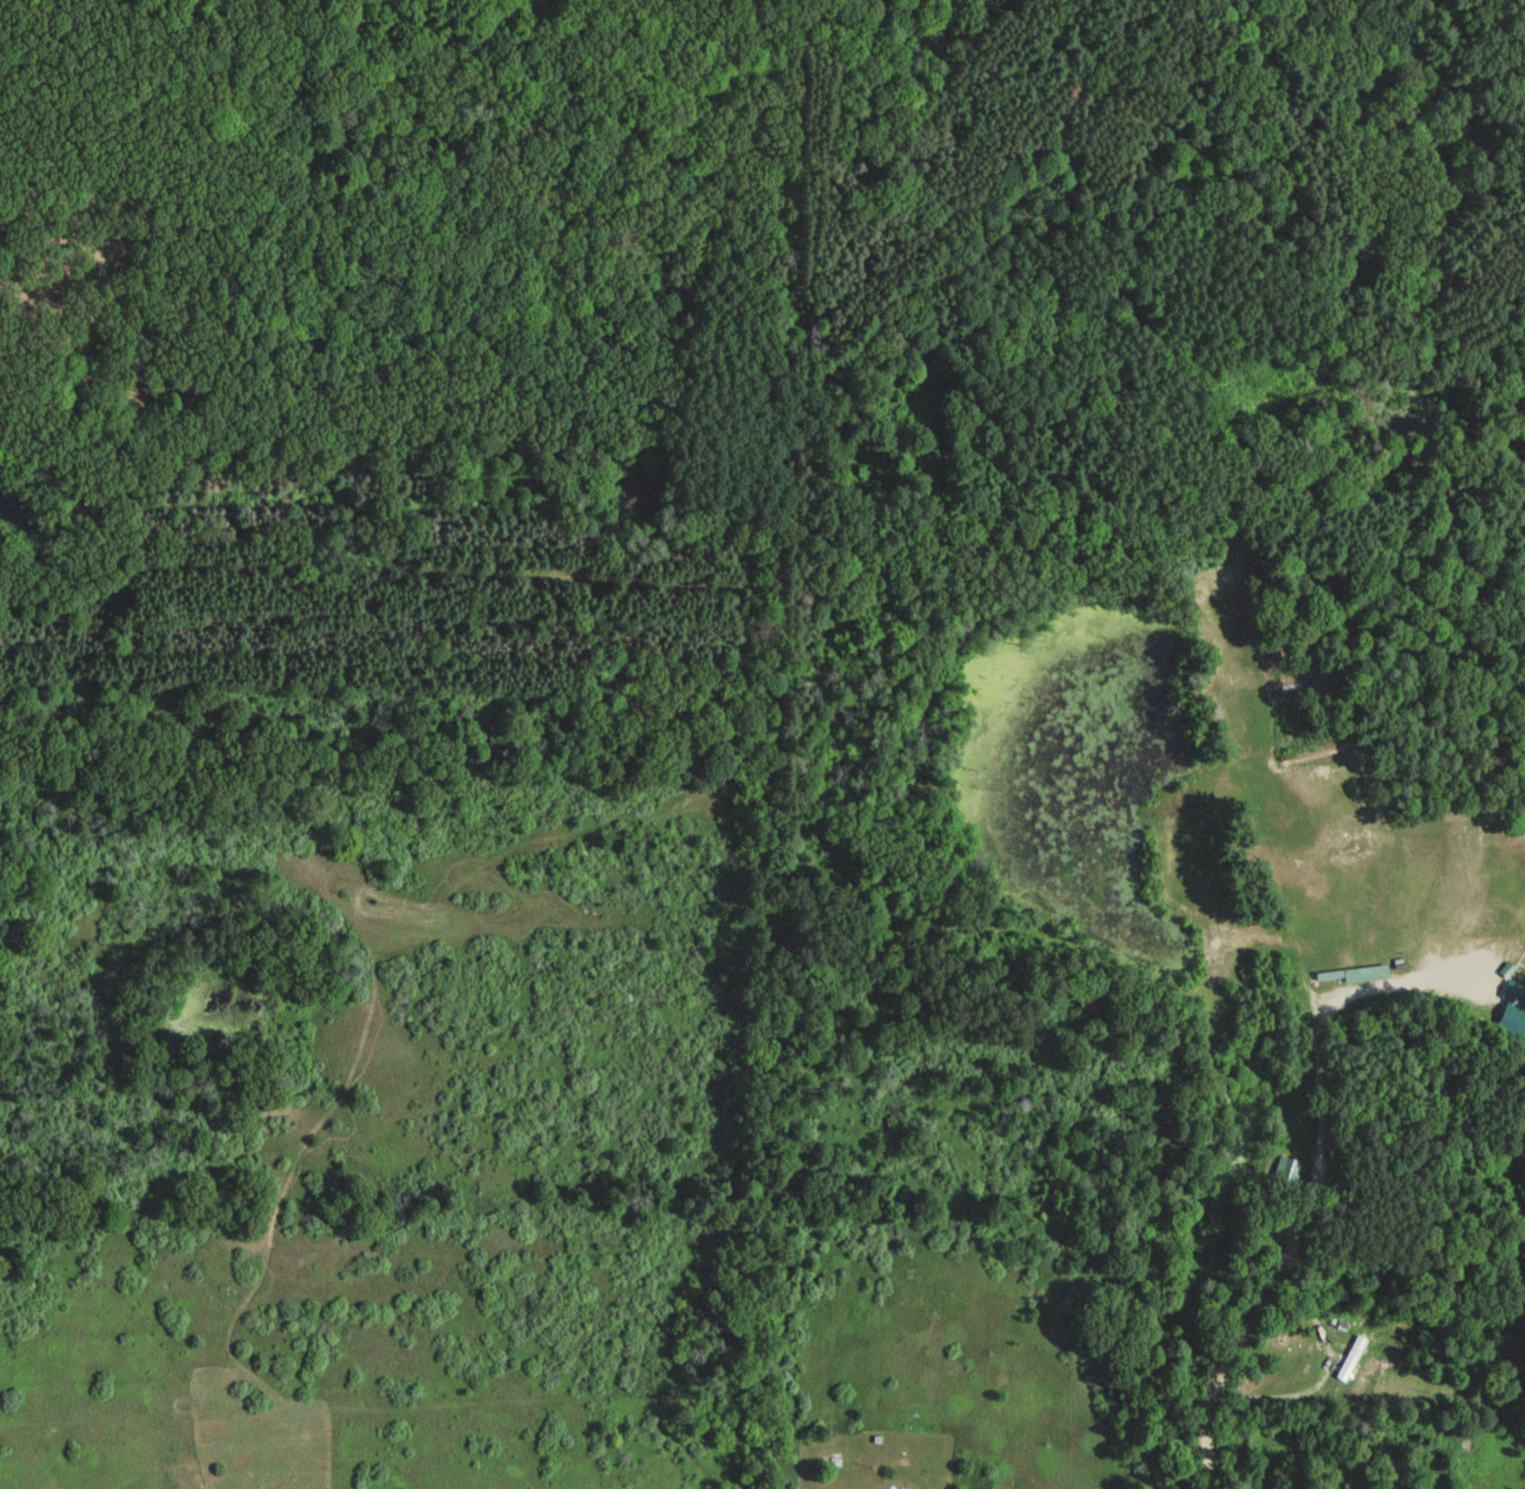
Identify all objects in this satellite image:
building: (1512, 1022)
road: (1324, 1161)
building: (1350, 1359)

